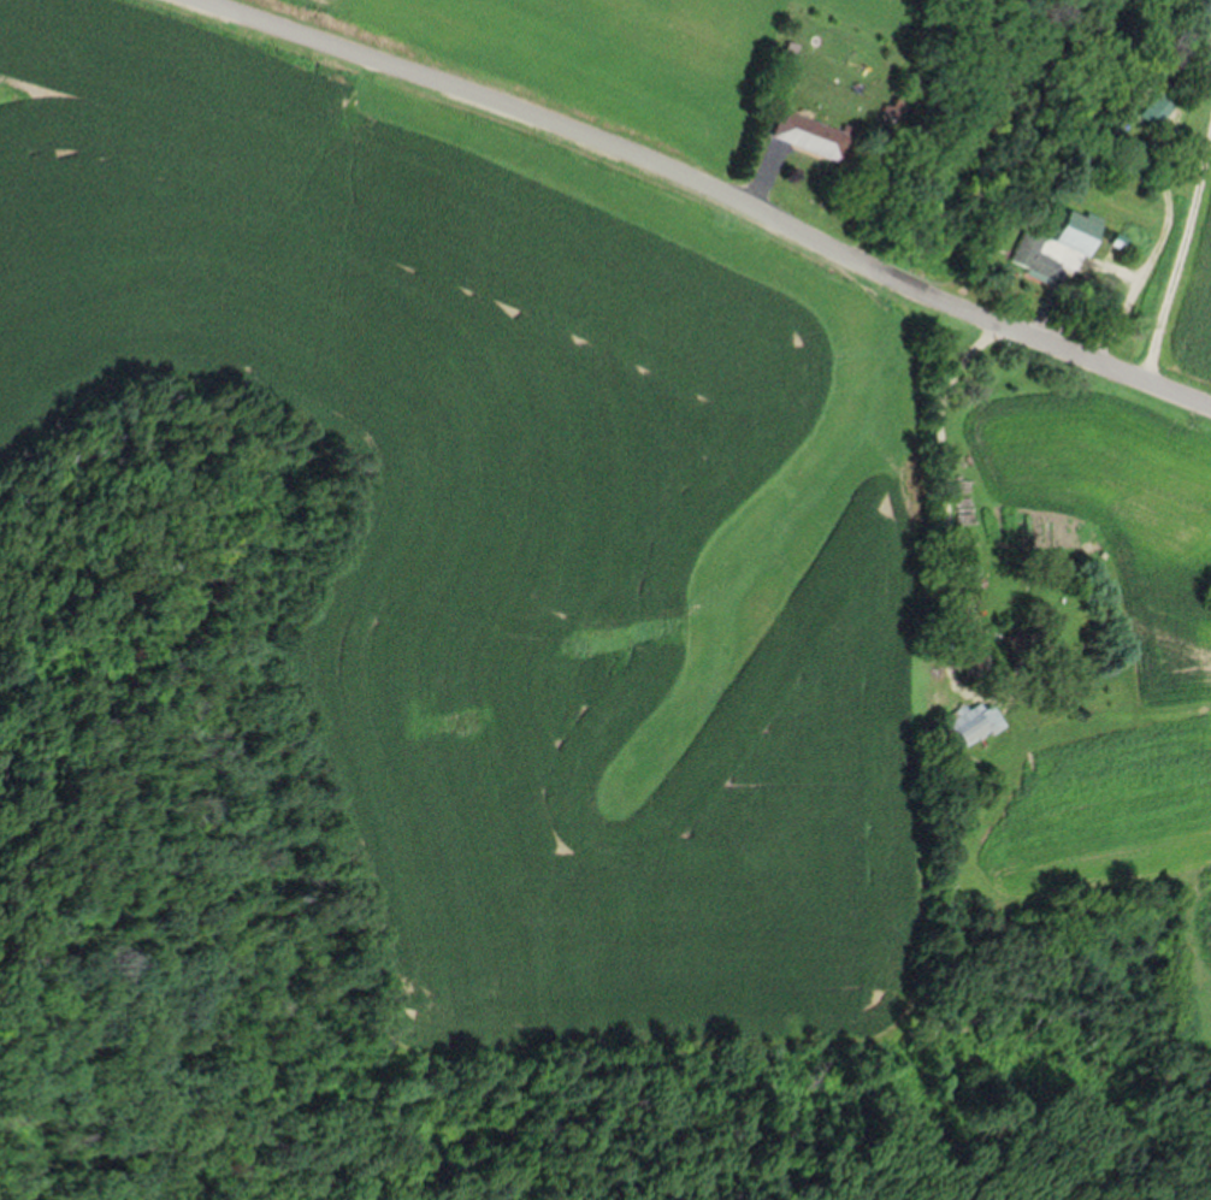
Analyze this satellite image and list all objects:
building: (813, 132)
building: (1134, 156)
road: (709, 177)
building: (1075, 226)
building: (1034, 255)
road: (1182, 258)
road: (947, 491)
building: (977, 722)

